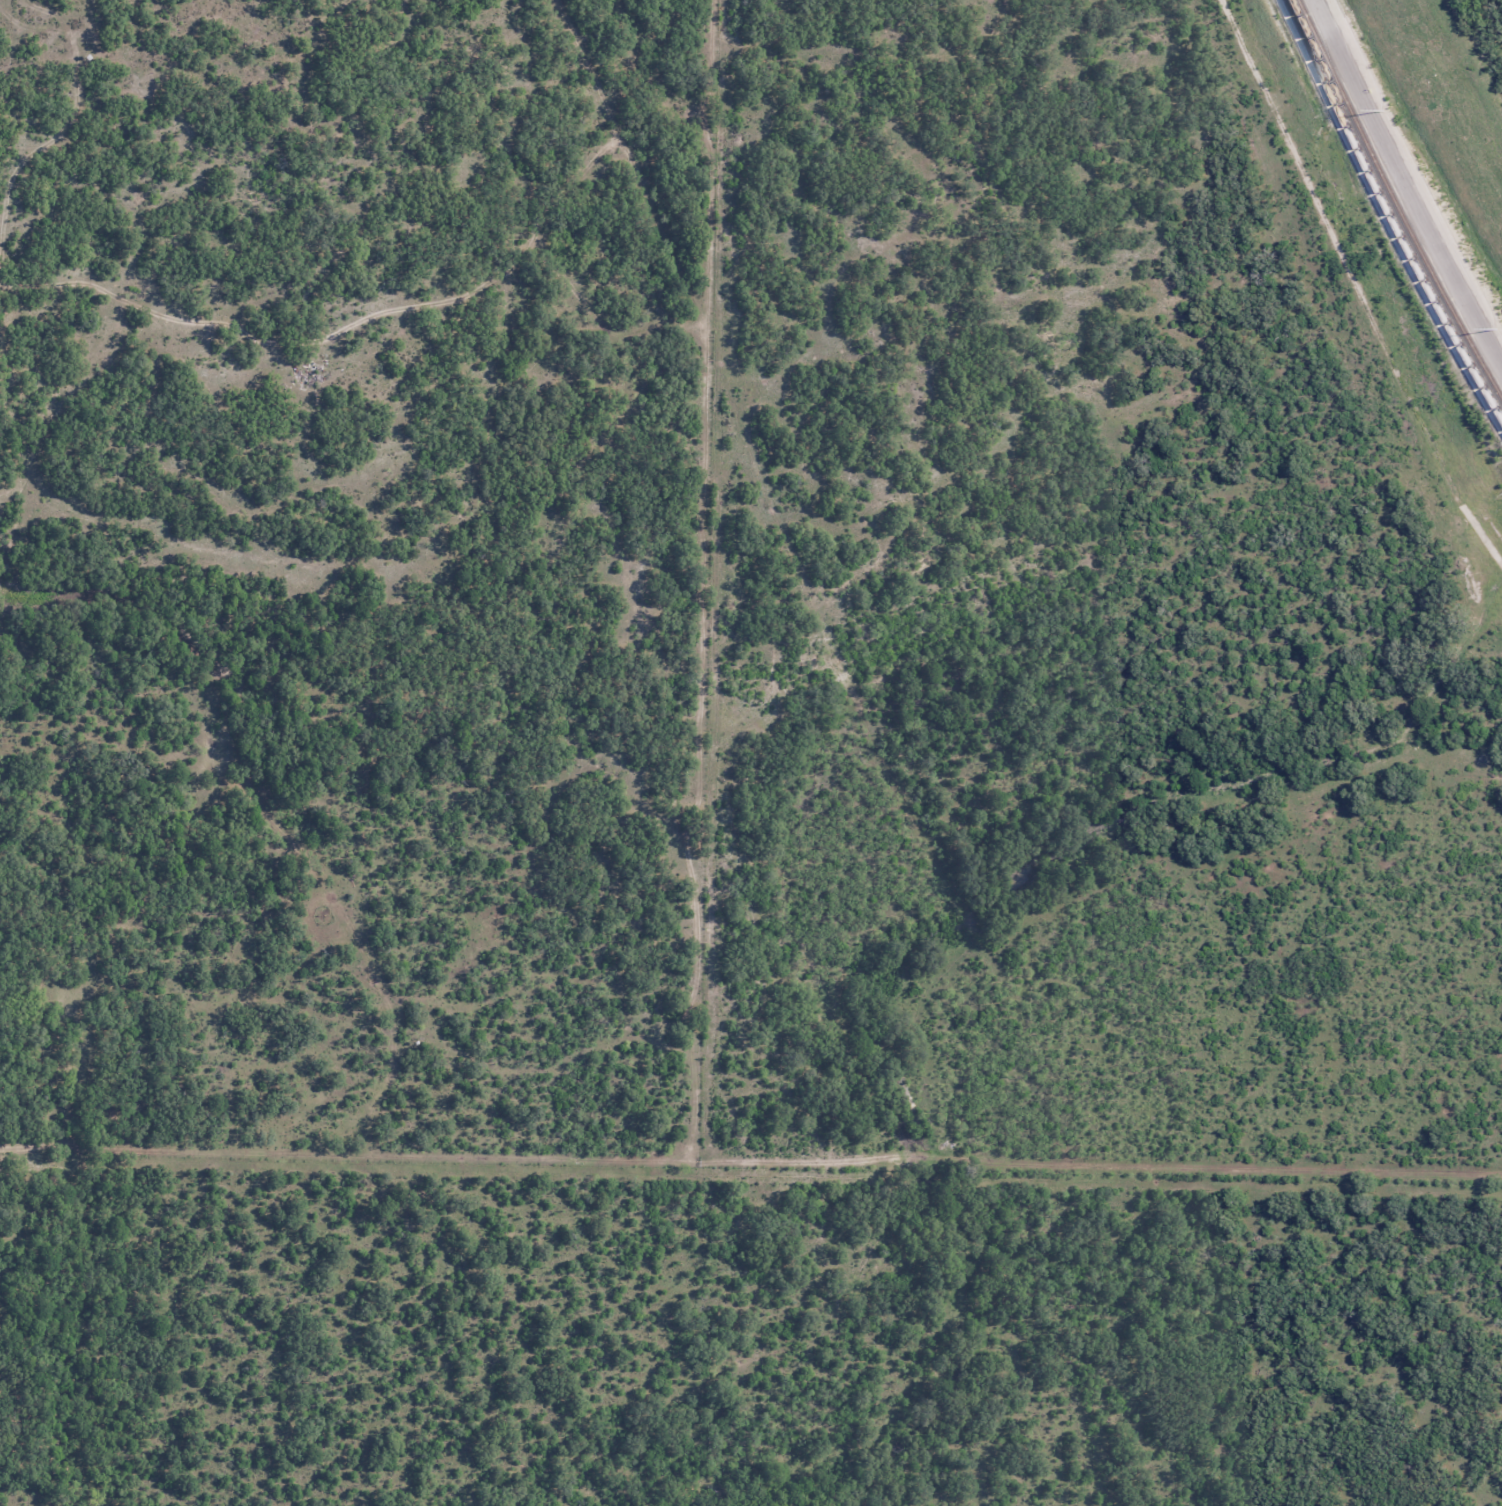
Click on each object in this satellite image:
power tower: (1384, 110)
road: (1407, 177)
railway: (1397, 197)
railway: (1391, 206)
power tower: (1498, 328)

